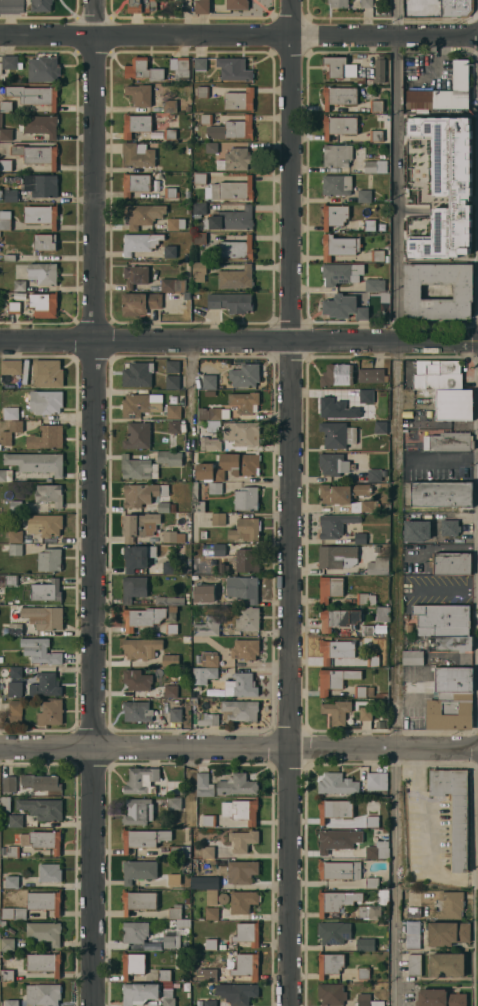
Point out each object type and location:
building: (338, 3)
building: (236, 4)
building: (367, 4)
building: (41, 5)
building: (11, 6)
building: (142, 6)
building: (202, 7)
building: (456, 8)
road: (238, 28)
building: (11, 62)
building: (201, 65)
building: (339, 67)
building: (44, 69)
building: (183, 69)
building: (234, 69)
building: (143, 70)
building: (379, 70)
building: (360, 80)
building: (369, 82)
building: (202, 91)
building: (444, 92)
building: (34, 95)
building: (140, 95)
building: (339, 96)
building: (239, 99)
building: (6, 106)
building: (169, 106)
building: (376, 106)
building: (188, 108)
building: (170, 116)
building: (206, 118)
building: (1, 120)
building: (41, 125)
building: (136, 125)
building: (340, 125)
building: (232, 129)
building: (6, 134)
building: (170, 134)
building: (376, 135)
building: (211, 147)
building: (37, 154)
building: (137, 155)
building: (337, 155)
building: (235, 160)
building: (5, 165)
building: (370, 167)
building: (200, 178)
building: (135, 183)
building: (41, 185)
building: (336, 185)
building: (446, 186)
building: (231, 190)
building: (170, 193)
building: (187, 193)
building: (0, 195)
building: (11, 195)
building: (364, 195)
building: (199, 209)
building: (188, 211)
building: (143, 214)
building: (41, 215)
building: (334, 215)
building: (5, 220)
building: (231, 220)
building: (175, 223)
building: (369, 225)
building: (199, 238)
building: (44, 242)
building: (140, 243)
building: (339, 246)
building: (236, 249)
building: (170, 252)
building: (377, 255)
building: (9, 258)
building: (199, 271)
building: (43, 273)
building: (341, 273)
building: (135, 275)
building: (236, 278)
building: (20, 285)
building: (173, 285)
building: (374, 285)
building: (463, 291)
building: (187, 295)
building: (230, 302)
building: (140, 303)
building: (43, 304)
building: (344, 307)
building: (14, 308)
road: (238, 335)
building: (10, 366)
building: (172, 367)
building: (25, 371)
building: (47, 373)
building: (138, 374)
building: (245, 375)
building: (334, 375)
building: (372, 375)
building: (437, 375)
building: (210, 381)
building: (172, 382)
road: (191, 389)
building: (366, 396)
building: (45, 402)
building: (244, 402)
building: (453, 404)
building: (140, 405)
building: (336, 409)
building: (173, 411)
building: (10, 413)
building: (213, 413)
building: (201, 423)
building: (213, 425)
building: (174, 427)
building: (381, 427)
building: (240, 435)
building: (334, 435)
building: (138, 436)
building: (46, 437)
building: (6, 438)
building: (449, 441)
building: (209, 443)
building: (169, 457)
building: (36, 463)
building: (240, 464)
building: (333, 464)
building: (137, 468)
building: (209, 472)
building: (32, 474)
building: (5, 475)
building: (374, 475)
building: (215, 488)
building: (49, 494)
building: (142, 494)
building: (441, 494)
building: (348, 497)
building: (196, 499)
building: (247, 499)
road: (397, 502)
road: (93, 503)
road: (289, 503)
building: (165, 507)
building: (219, 519)
building: (44, 525)
building: (139, 525)
building: (335, 525)
building: (450, 528)
building: (246, 530)
building: (416, 531)
building: (203, 535)
building: (10, 536)
building: (173, 537)
building: (360, 538)
building: (15, 549)
building: (137, 556)
building: (337, 557)
building: (49, 560)
building: (247, 560)
building: (452, 564)
building: (378, 566)
building: (169, 567)
building: (187, 571)
building: (193, 578)
building: (11, 580)
building: (134, 588)
building: (243, 588)
building: (330, 588)
building: (47, 591)
building: (202, 596)
building: (365, 599)
building: (169, 600)
building: (382, 614)
building: (44, 617)
building: (143, 617)
building: (405, 617)
building: (248, 619)
building: (338, 619)
building: (442, 620)
building: (207, 626)
building: (410, 628)
building: (13, 629)
building: (171, 629)
building: (367, 631)
building: (185, 639)
building: (450, 643)
building: (141, 648)
building: (245, 650)
building: (336, 650)
building: (40, 651)
building: (210, 658)
building: (413, 658)
building: (1, 660)
building: (170, 660)
building: (372, 660)
building: (16, 672)
building: (204, 675)
building: (335, 679)
building: (136, 680)
building: (453, 680)
building: (45, 685)
building: (241, 685)
building: (15, 688)
building: (171, 691)
building: (360, 691)
building: (370, 691)
building: (380, 696)
building: (193, 701)
building: (174, 702)
building: (240, 710)
building: (15, 711)
building: (137, 711)
building: (171, 711)
building: (450, 711)
building: (338, 712)
building: (50, 713)
building: (366, 714)
building: (208, 719)
road: (239, 745)
building: (141, 781)
building: (377, 781)
building: (41, 783)
building: (9, 784)
building: (337, 784)
building: (204, 785)
building: (236, 785)
building: (174, 803)
building: (4, 804)
building: (42, 809)
building: (334, 809)
building: (242, 810)
building: (138, 812)
building: (454, 812)
building: (208, 820)
building: (16, 821)
building: (372, 821)
building: (4, 822)
road: (417, 838)
building: (143, 839)
building: (42, 840)
building: (243, 840)
building: (338, 840)
building: (377, 850)
building: (13, 852)
building: (180, 852)
building: (207, 852)
building: (201, 867)
building: (339, 870)
building: (138, 871)
building: (242, 872)
building: (49, 873)
building: (11, 882)
building: (176, 882)
building: (207, 883)
building: (372, 883)
building: (211, 897)
building: (223, 898)
building: (138, 901)
building: (336, 901)
building: (44, 902)
building: (243, 902)
building: (450, 905)
building: (413, 907)
building: (175, 912)
building: (369, 912)
building: (13, 914)
building: (211, 914)
building: (182, 923)
building: (3, 925)
building: (135, 931)
building: (44, 932)
building: (247, 933)
building: (333, 933)
building: (447, 933)
building: (413, 935)
building: (171, 941)
building: (6, 944)
building: (210, 944)
building: (365, 944)
building: (152, 945)
building: (3, 953)
building: (44, 963)
building: (330, 964)
building: (133, 965)
building: (414, 965)
building: (447, 965)
building: (246, 966)
building: (363, 973)
building: (164, 975)
building: (210, 975)
building: (6, 976)
building: (168, 985)
building: (140, 993)
building: (43, 994)
building: (242, 994)
building: (331, 994)
building: (439, 998)
building: (367, 1001)
building: (169, 1002)
building: (11, 1003)
building: (209, 1003)

